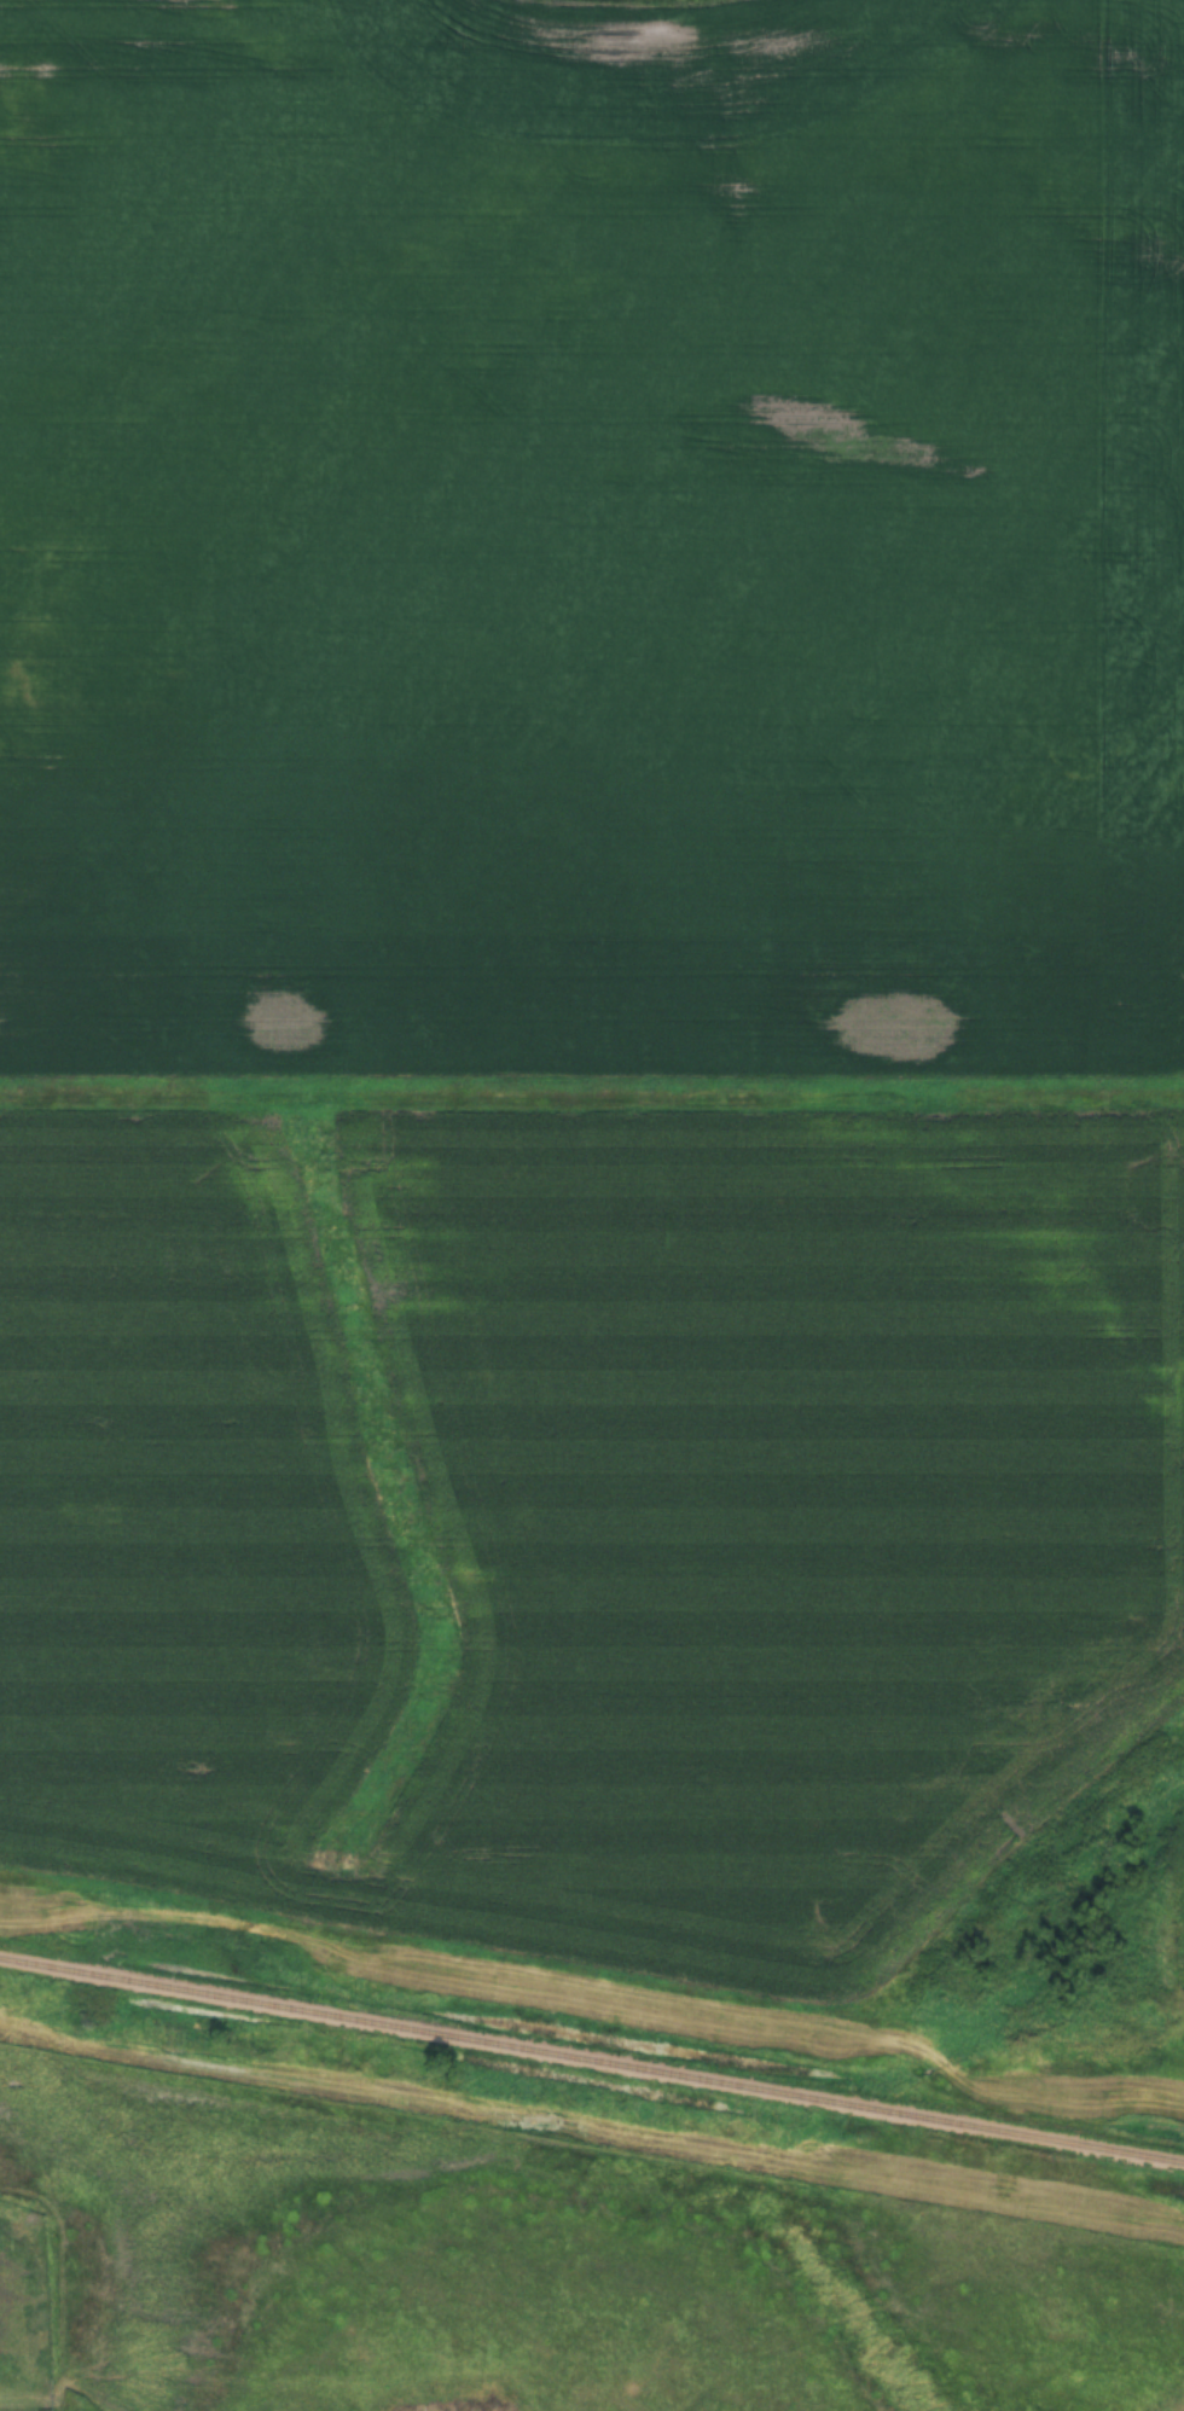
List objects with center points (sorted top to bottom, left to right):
railway: (591, 2062)

